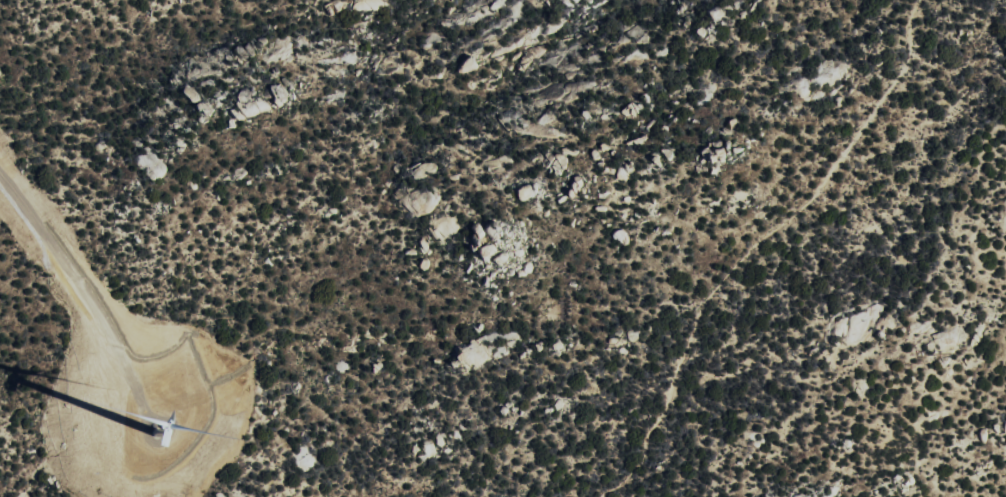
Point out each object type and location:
building: (538, 52)
building: (471, 66)
building: (282, 94)
building: (425, 202)
road: (84, 288)
building: (476, 357)
wind turbine: (160, 435)

